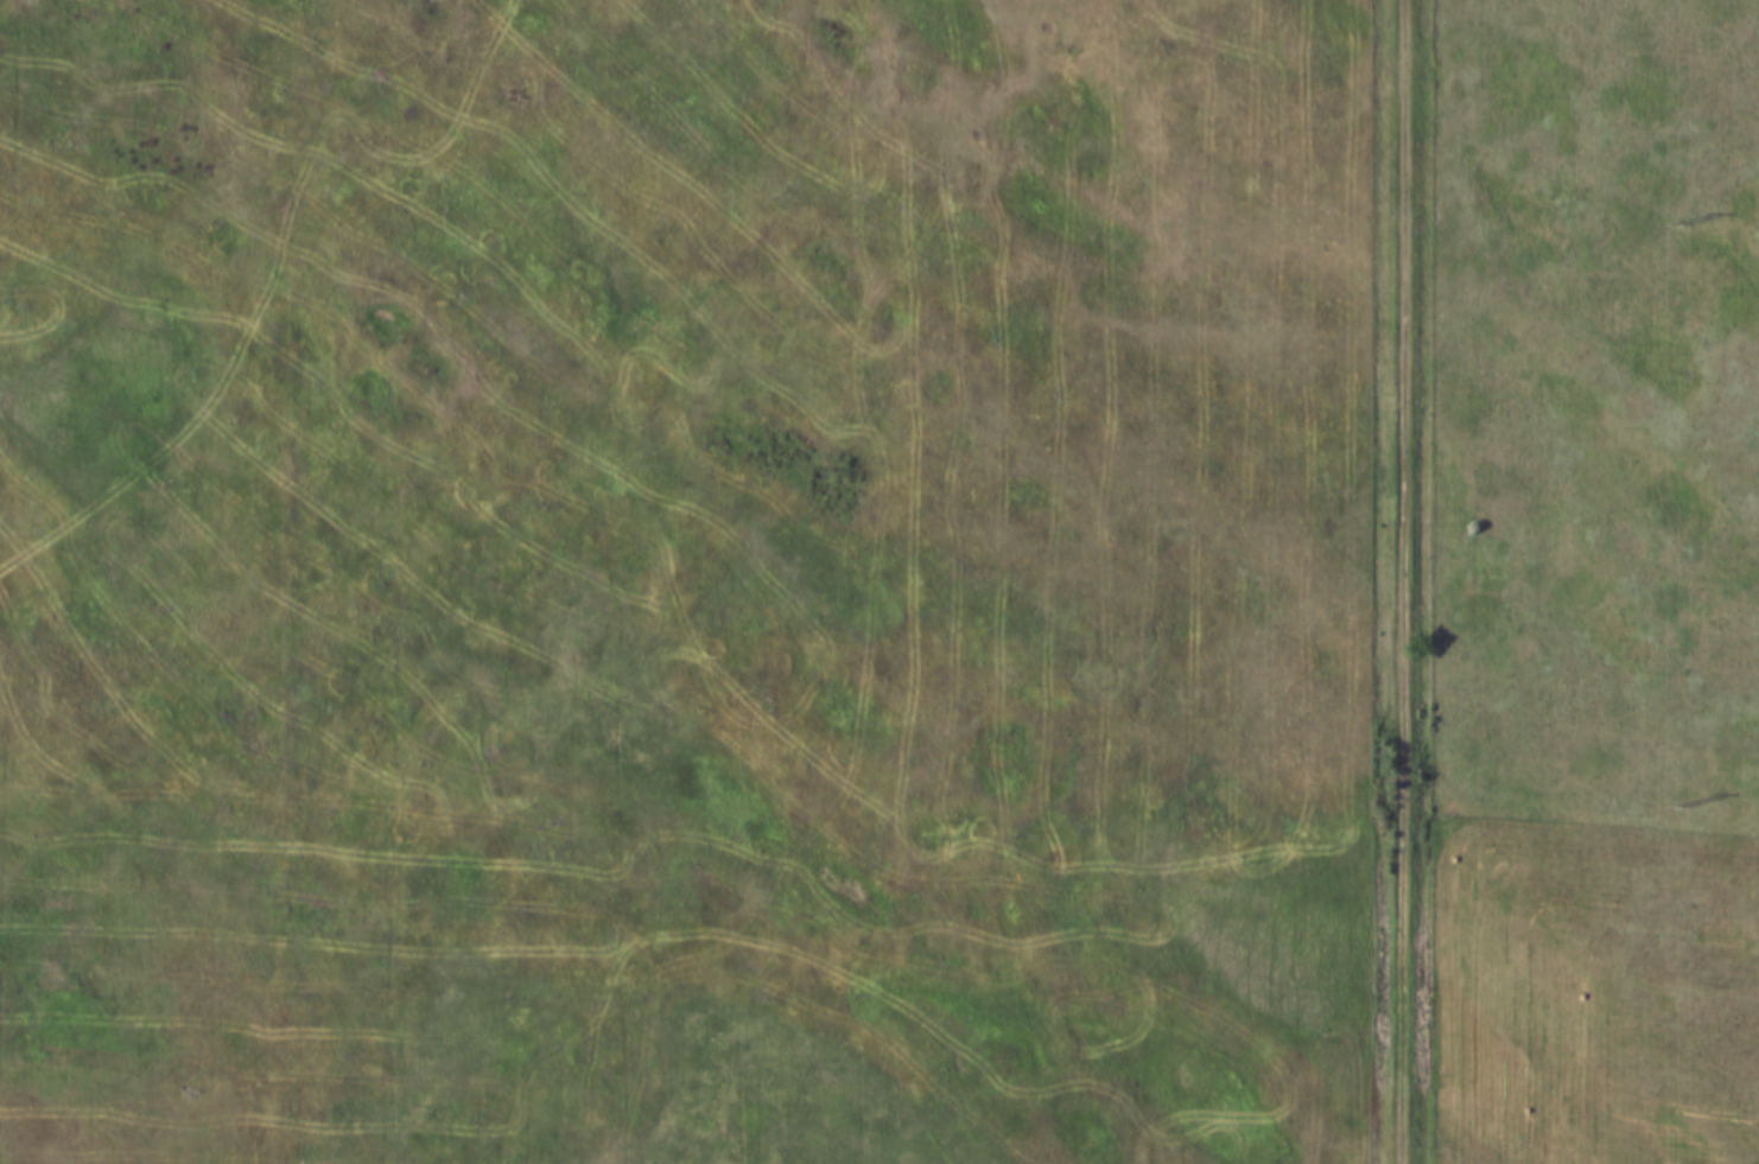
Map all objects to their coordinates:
power tower: (1678, 224)
road: (1401, 581)
power tower: (1681, 810)

